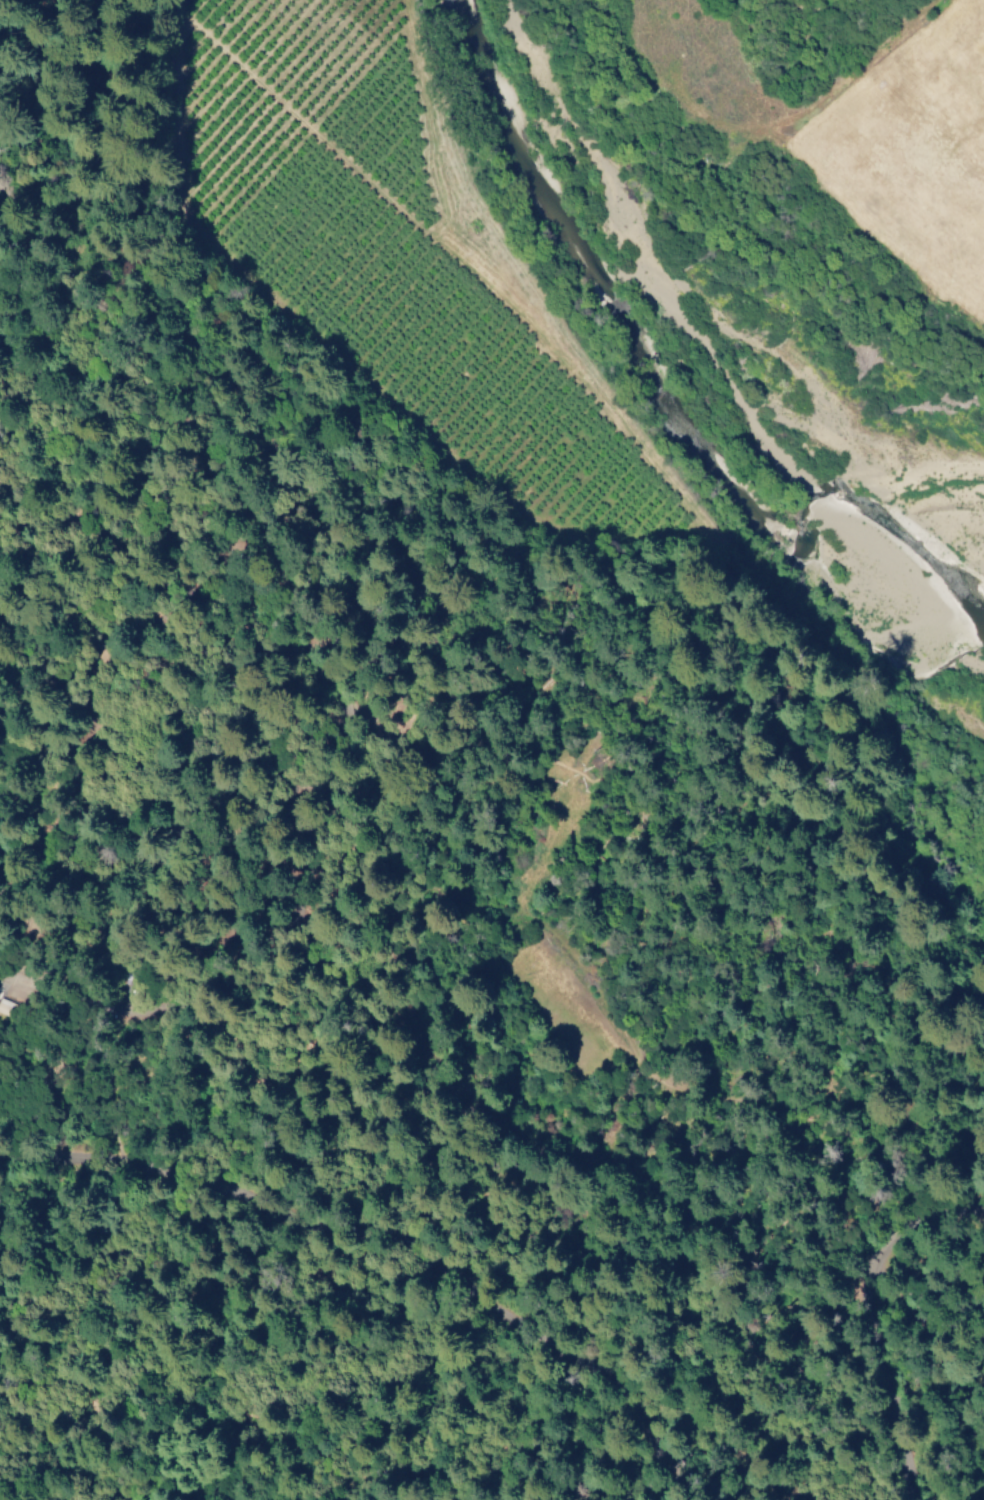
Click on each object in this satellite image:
road: (31, 45)
road: (351, 374)
river: (690, 378)
road: (156, 410)
road: (20, 415)
road: (499, 629)
road: (51, 900)
road: (70, 995)
road: (492, 995)
road: (197, 1089)
road: (510, 1205)
road: (937, 1217)
road: (167, 1308)
road: (921, 1315)
road: (73, 1326)

